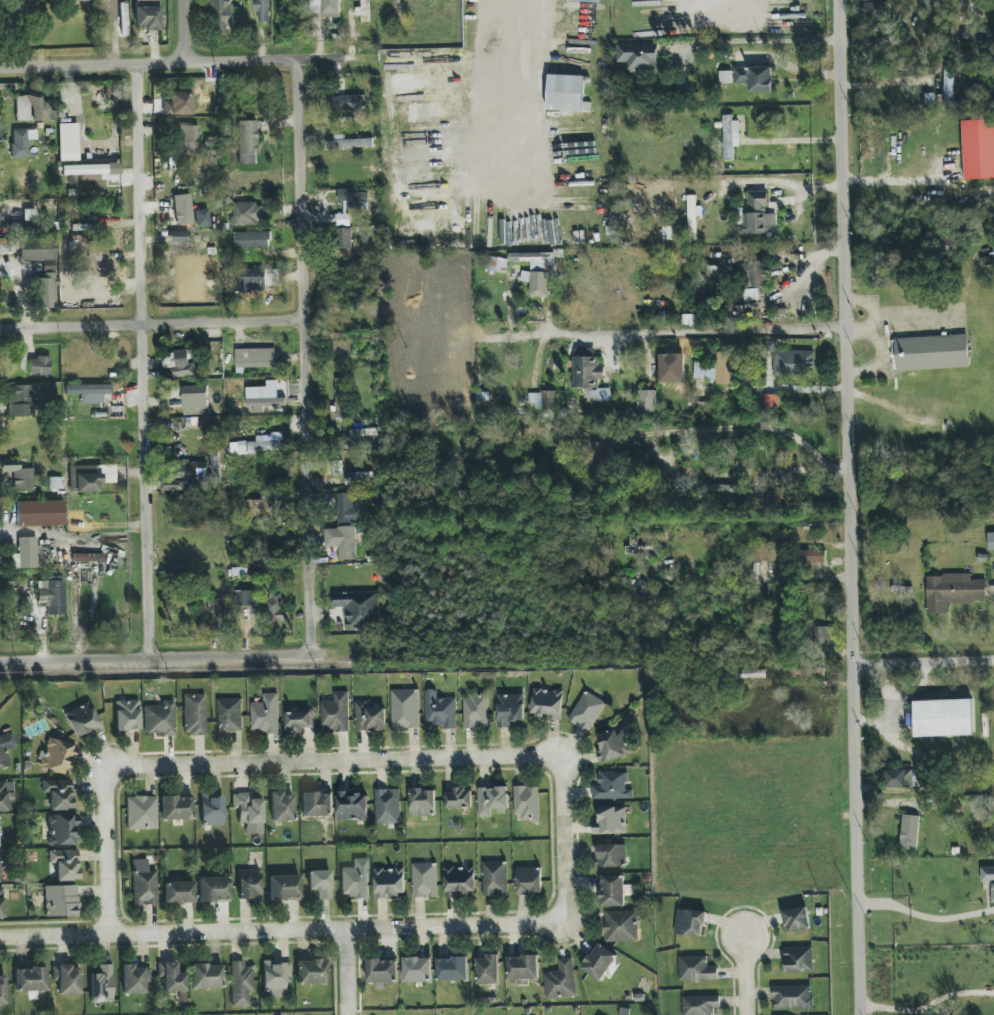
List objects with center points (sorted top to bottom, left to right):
building: (82, 0)
road: (718, 4)
building: (332, 6)
building: (14, 9)
building: (872, 9)
building: (263, 10)
building: (146, 14)
building: (223, 15)
road: (184, 29)
road: (761, 40)
building: (638, 55)
road: (336, 58)
road: (177, 59)
building: (725, 77)
building: (755, 78)
building: (948, 89)
road: (531, 90)
building: (929, 99)
building: (178, 102)
building: (346, 103)
building: (34, 109)
road: (339, 109)
building: (730, 136)
building: (186, 138)
building: (68, 142)
building: (247, 142)
building: (19, 143)
building: (350, 143)
building: (978, 149)
building: (871, 151)
building: (92, 171)
building: (183, 209)
building: (247, 214)
building: (29, 215)
building: (759, 215)
building: (693, 216)
building: (86, 227)
building: (344, 238)
building: (252, 240)
building: (77, 242)
building: (6, 245)
building: (180, 248)
building: (39, 252)
building: (92, 254)
building: (535, 260)
building: (987, 260)
building: (496, 264)
building: (756, 273)
building: (253, 279)
building: (537, 283)
building: (46, 291)
building: (751, 294)
building: (691, 319)
road: (154, 322)
road: (695, 330)
building: (932, 352)
road: (148, 357)
building: (255, 358)
building: (184, 363)
building: (794, 363)
building: (39, 366)
building: (586, 368)
building: (717, 369)
road: (309, 390)
building: (89, 392)
building: (599, 394)
building: (264, 395)
building: (340, 398)
building: (23, 399)
building: (196, 400)
building: (543, 400)
building: (646, 401)
building: (771, 401)
road: (759, 429)
building: (359, 438)
building: (263, 444)
building: (182, 476)
building: (16, 478)
building: (360, 478)
building: (84, 479)
building: (259, 507)
road: (855, 507)
building: (349, 508)
building: (40, 513)
building: (342, 541)
building: (991, 541)
building: (766, 552)
building: (26, 553)
building: (813, 556)
building: (92, 557)
building: (653, 576)
road: (754, 577)
building: (952, 591)
building: (51, 596)
building: (247, 600)
building: (359, 608)
building: (276, 609)
building: (823, 637)
road: (146, 655)
road: (926, 661)
building: (547, 703)
building: (405, 709)
building: (510, 709)
building: (439, 710)
building: (475, 711)
building: (587, 711)
building: (336, 713)
building: (194, 714)
building: (265, 714)
building: (127, 715)
building: (229, 715)
building: (369, 717)
building: (943, 718)
building: (159, 719)
building: (83, 720)
building: (298, 721)
building: (613, 745)
building: (6, 749)
building: (56, 756)
road: (252, 763)
building: (899, 778)
building: (612, 786)
building: (58, 794)
building: (6, 795)
building: (459, 799)
building: (492, 800)
building: (423, 802)
building: (527, 803)
building: (317, 804)
building: (352, 806)
building: (387, 806)
building: (281, 807)
building: (176, 808)
building: (247, 808)
building: (212, 810)
building: (141, 813)
building: (611, 821)
building: (61, 830)
building: (909, 832)
road: (562, 837)
building: (611, 856)
building: (65, 864)
building: (988, 877)
building: (495, 878)
building: (355, 879)
building: (425, 880)
building: (529, 880)
building: (460, 881)
building: (389, 882)
building: (320, 883)
building: (249, 884)
building: (144, 887)
building: (284, 888)
building: (213, 890)
building: (612, 891)
building: (179, 893)
building: (61, 901)
building: (1, 903)
road: (928, 918)
building: (797, 920)
building: (690, 923)
building: (621, 926)
road: (284, 931)
building: (799, 959)
building: (599, 962)
building: (417, 969)
building: (453, 969)
building: (696, 969)
building: (488, 970)
building: (382, 971)
building: (311, 972)
road: (345, 972)
building: (206, 976)
road: (745, 976)
building: (171, 977)
building: (276, 977)
building: (67, 979)
building: (134, 979)
building: (30, 980)
building: (561, 981)
building: (240, 984)
building: (102, 985)
building: (2, 990)
building: (792, 997)
road: (930, 1004)
building: (700, 1005)

